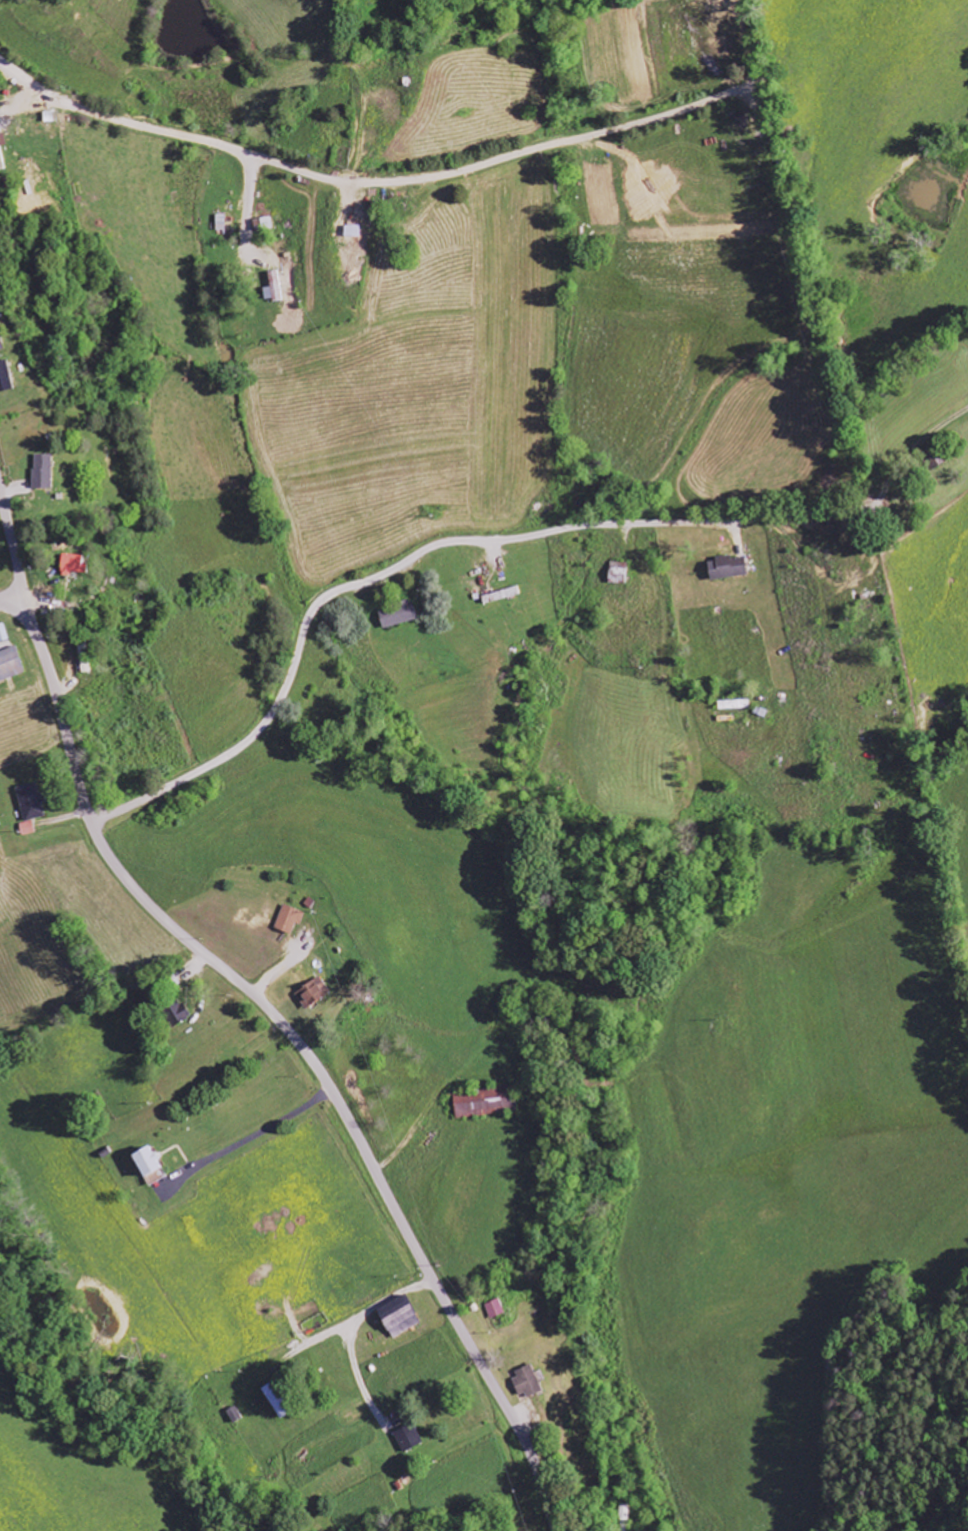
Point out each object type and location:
building: (2, 140)
building: (1, 163)
road: (364, 181)
building: (224, 222)
building: (274, 287)
building: (5, 378)
road: (910, 451)
building: (42, 471)
road: (15, 548)
road: (417, 551)
building: (73, 564)
building: (726, 567)
road: (8, 607)
building: (398, 615)
building: (2, 633)
building: (9, 664)
building: (29, 802)
building: (27, 828)
building: (289, 919)
building: (312, 993)
building: (177, 1015)
road: (304, 1053)
building: (485, 1102)
building: (147, 1166)
building: (495, 1309)
building: (397, 1317)
building: (527, 1382)
building: (235, 1415)
building: (408, 1438)

